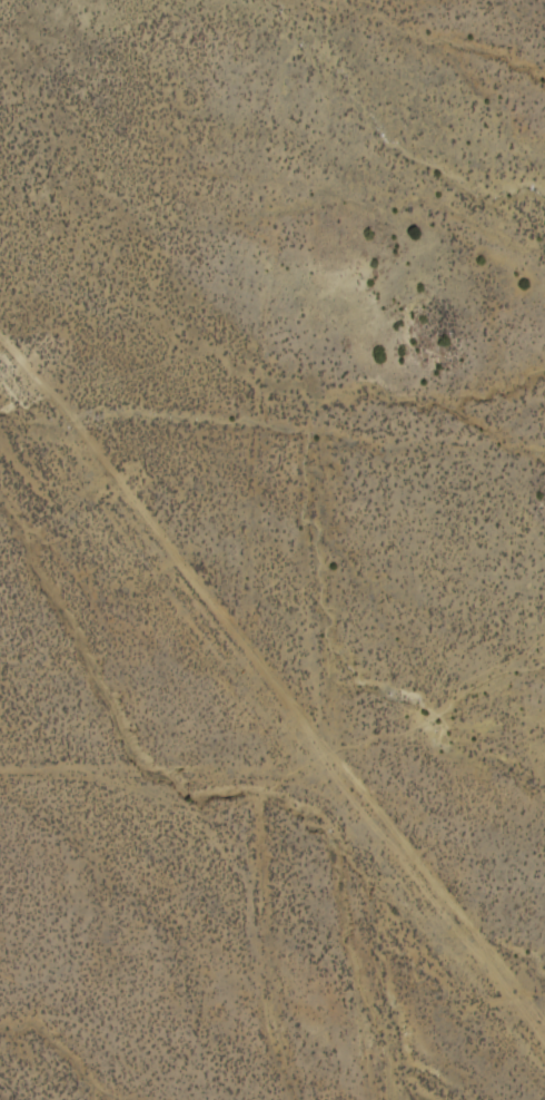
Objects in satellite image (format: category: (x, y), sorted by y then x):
road: (270, 676)

